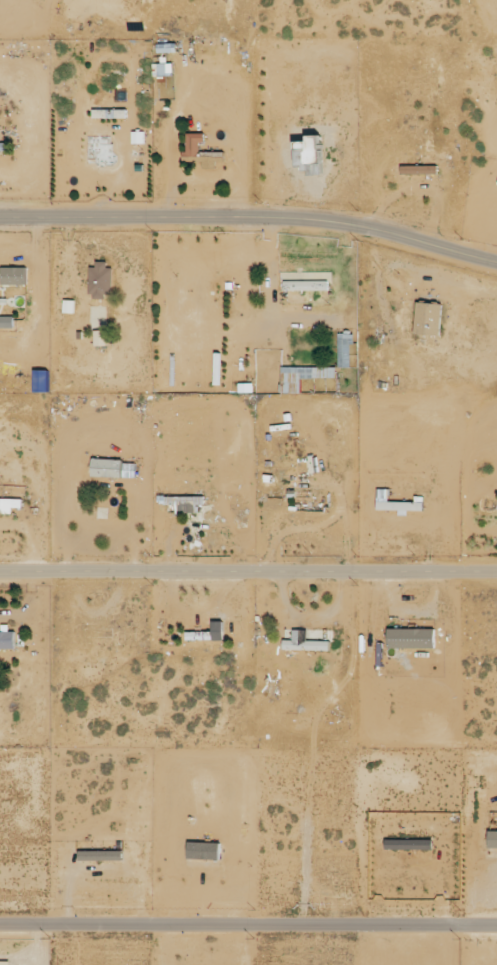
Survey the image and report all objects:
building: (166, 48)
building: (194, 145)
building: (3, 147)
building: (309, 156)
building: (418, 170)
road: (250, 216)
building: (101, 281)
building: (13, 283)
building: (306, 286)
building: (203, 288)
building: (428, 320)
building: (183, 501)
building: (304, 502)
building: (398, 503)
road: (248, 570)
building: (204, 636)
building: (411, 639)
building: (7, 641)
building: (306, 646)
road: (248, 924)

